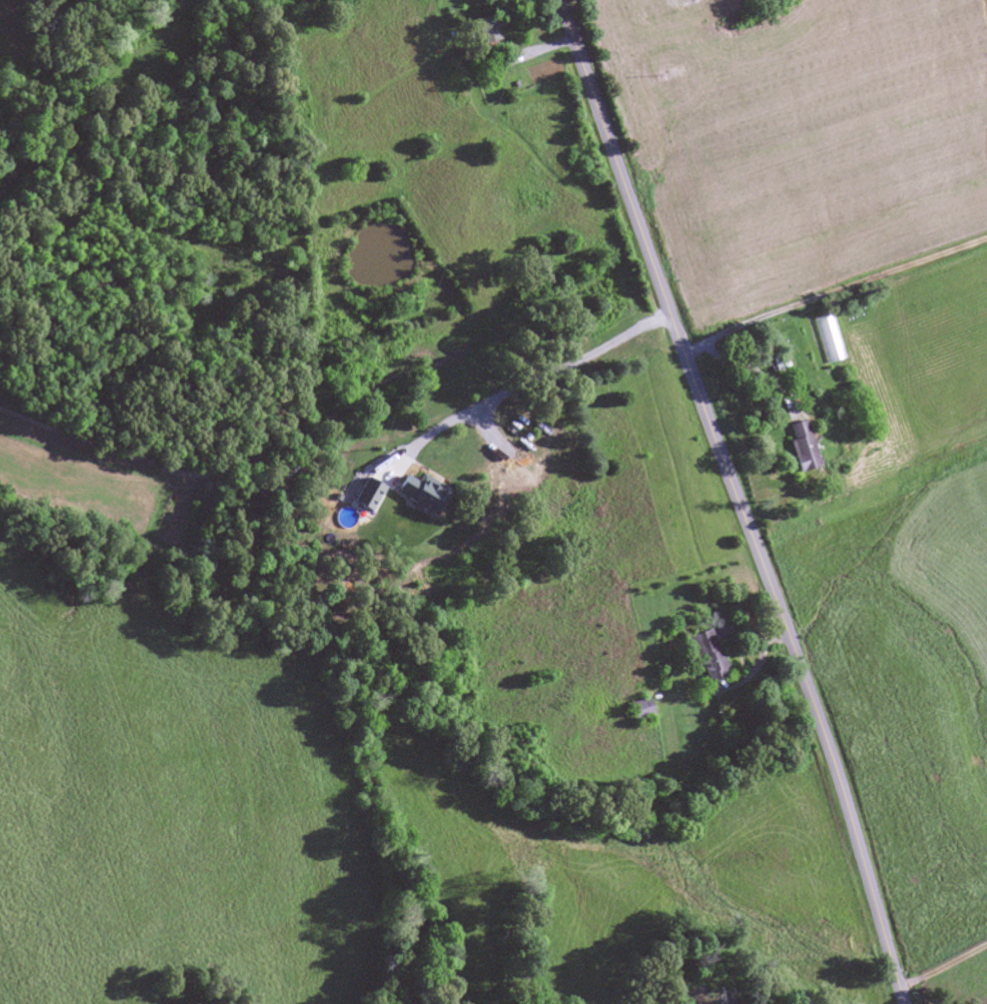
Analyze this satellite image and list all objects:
building: (487, 30)
building: (778, 363)
building: (798, 446)
building: (418, 493)
road: (737, 499)
building: (704, 657)
building: (638, 710)

